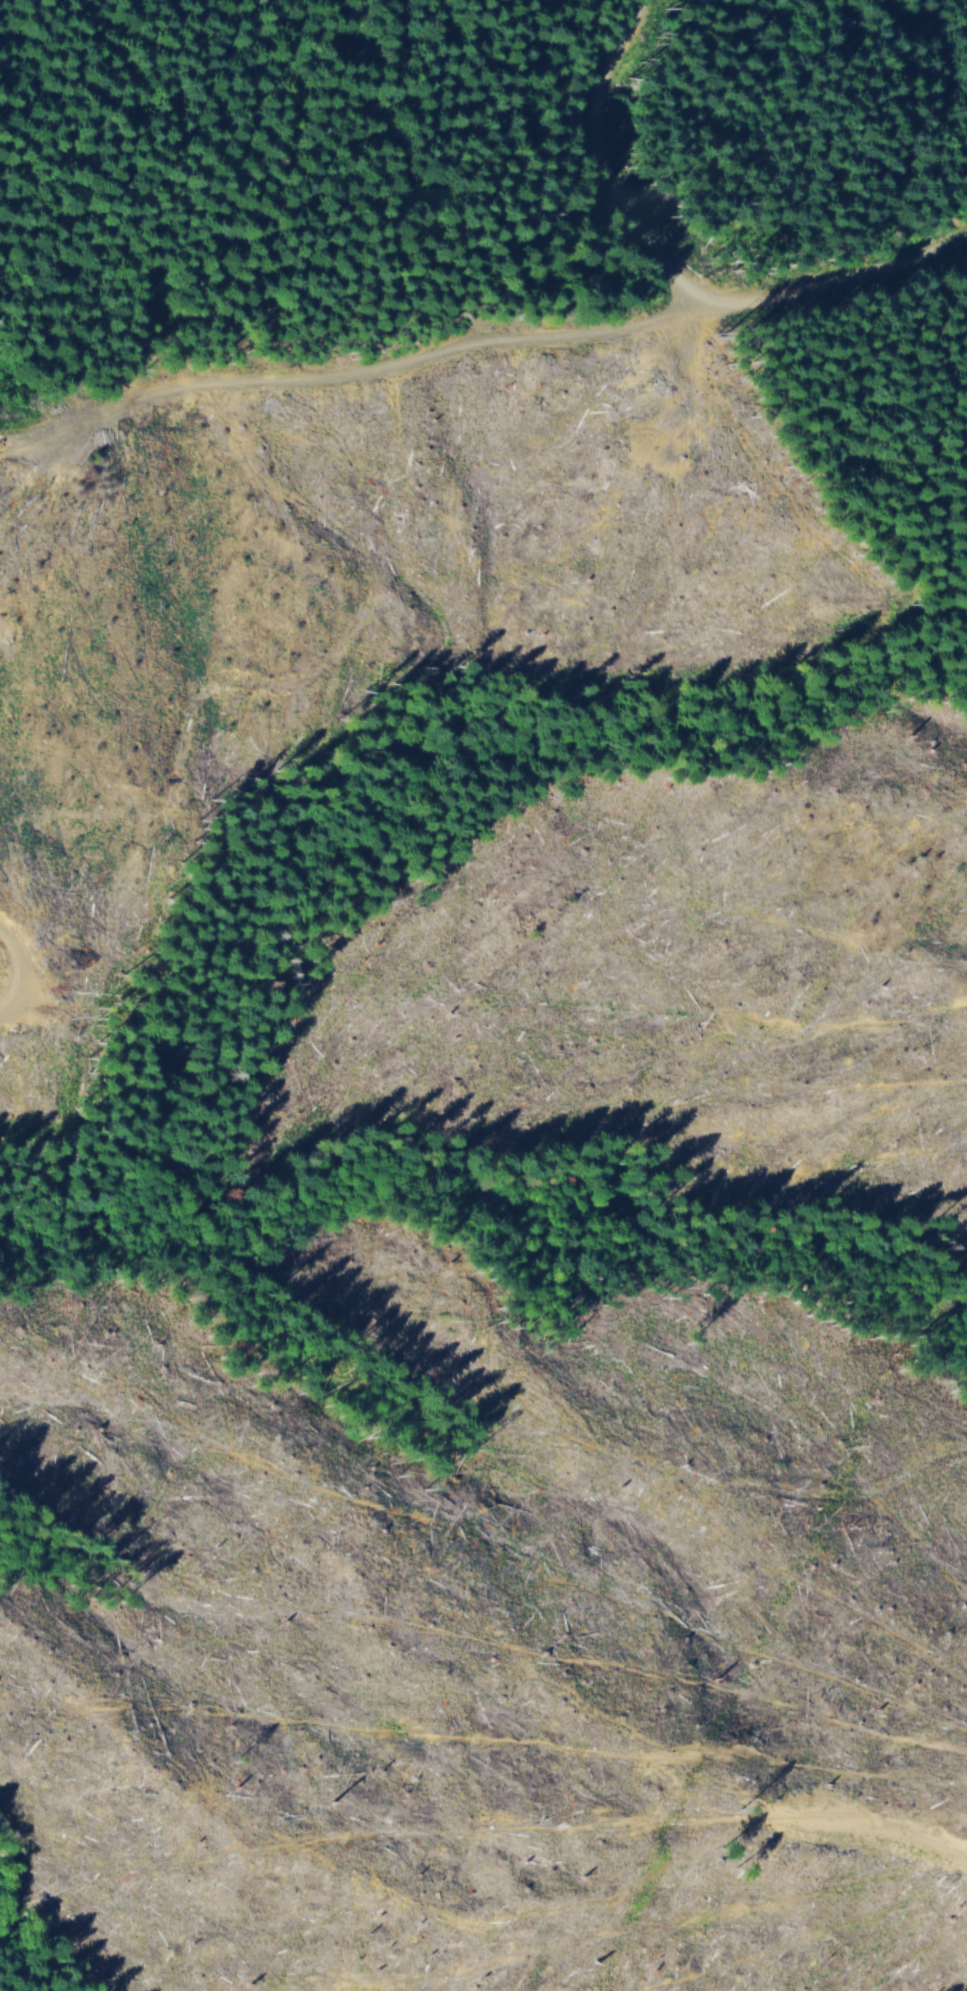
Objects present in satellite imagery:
road: (667, 358)
road: (365, 448)

